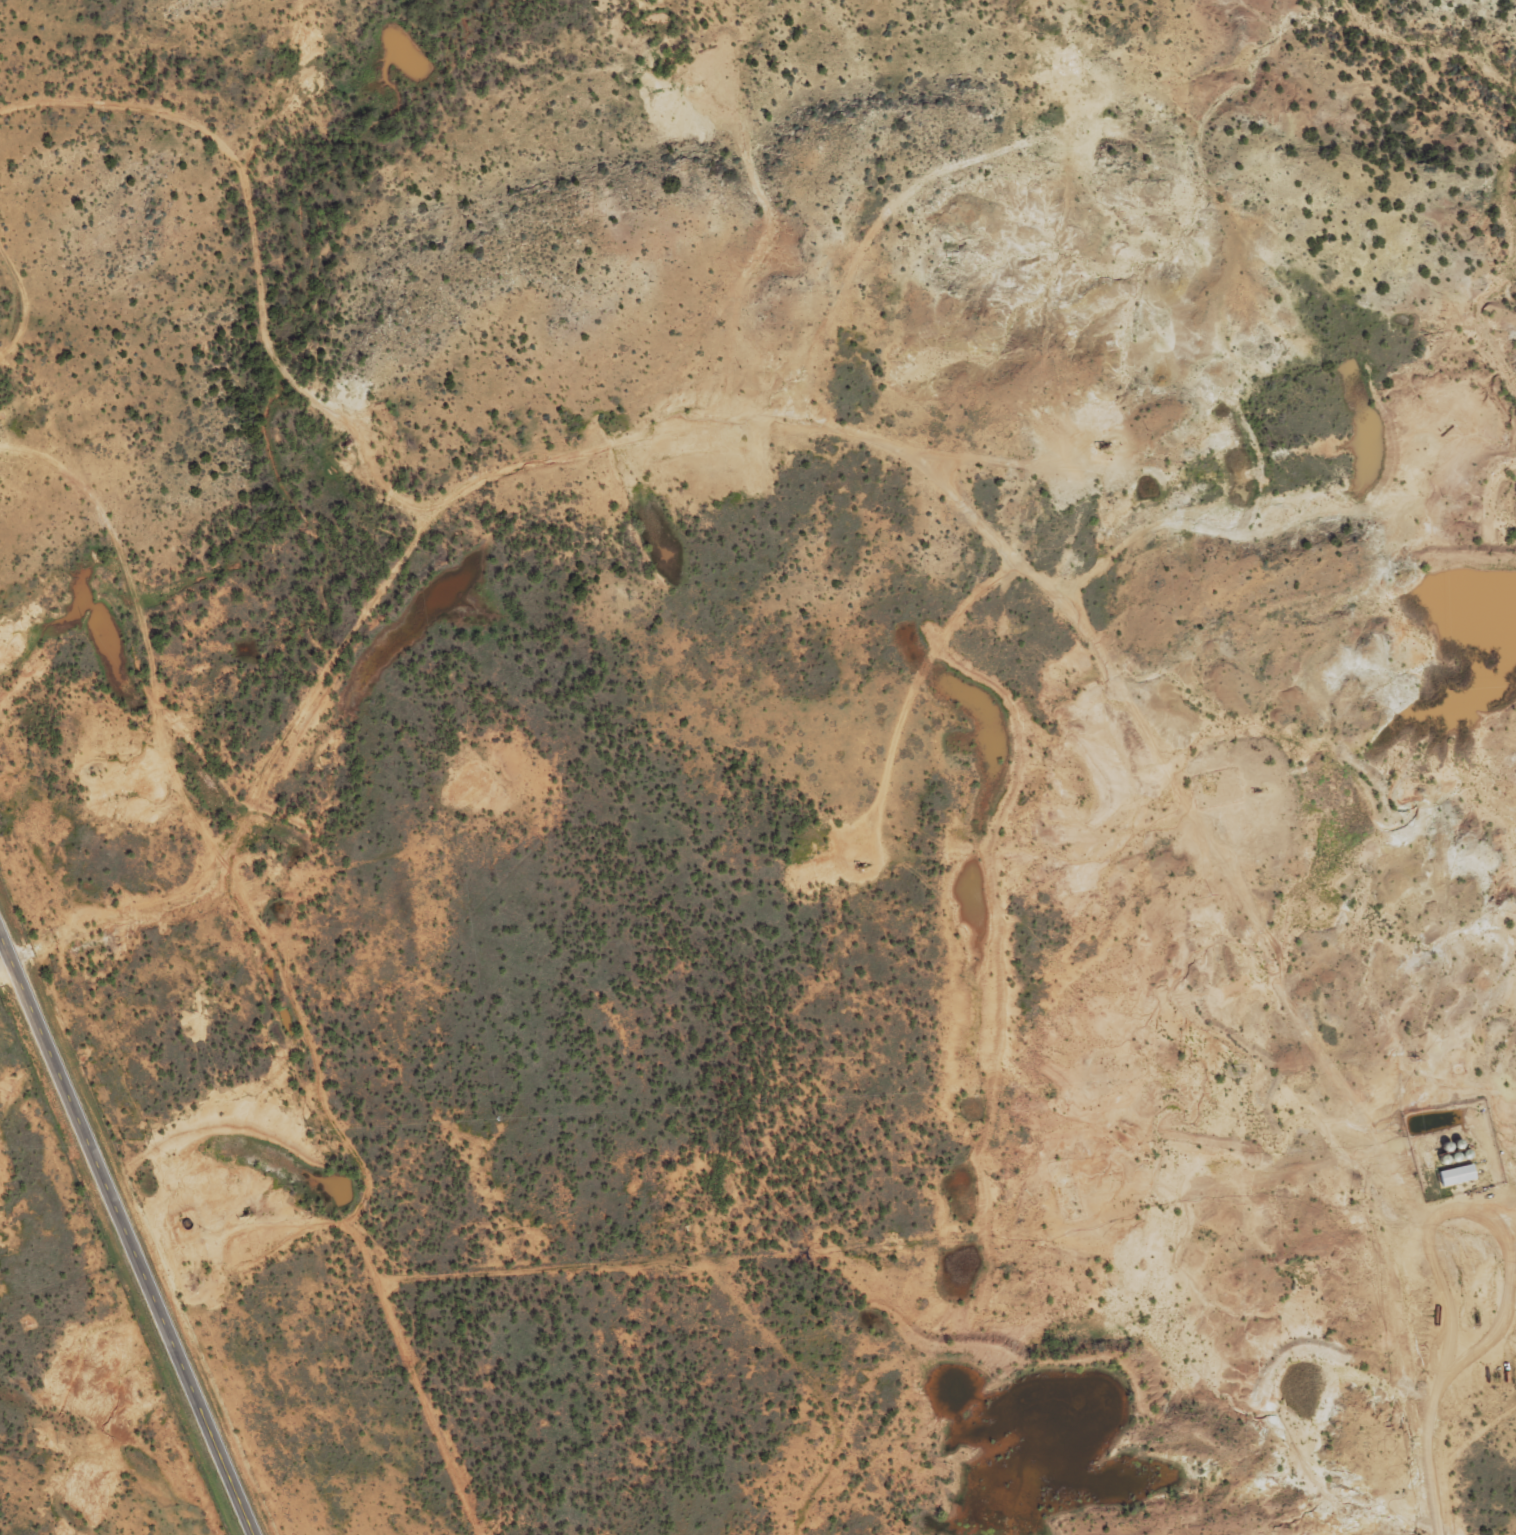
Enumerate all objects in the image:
building: (1450, 1172)
road: (128, 1229)
road: (411, 1289)

